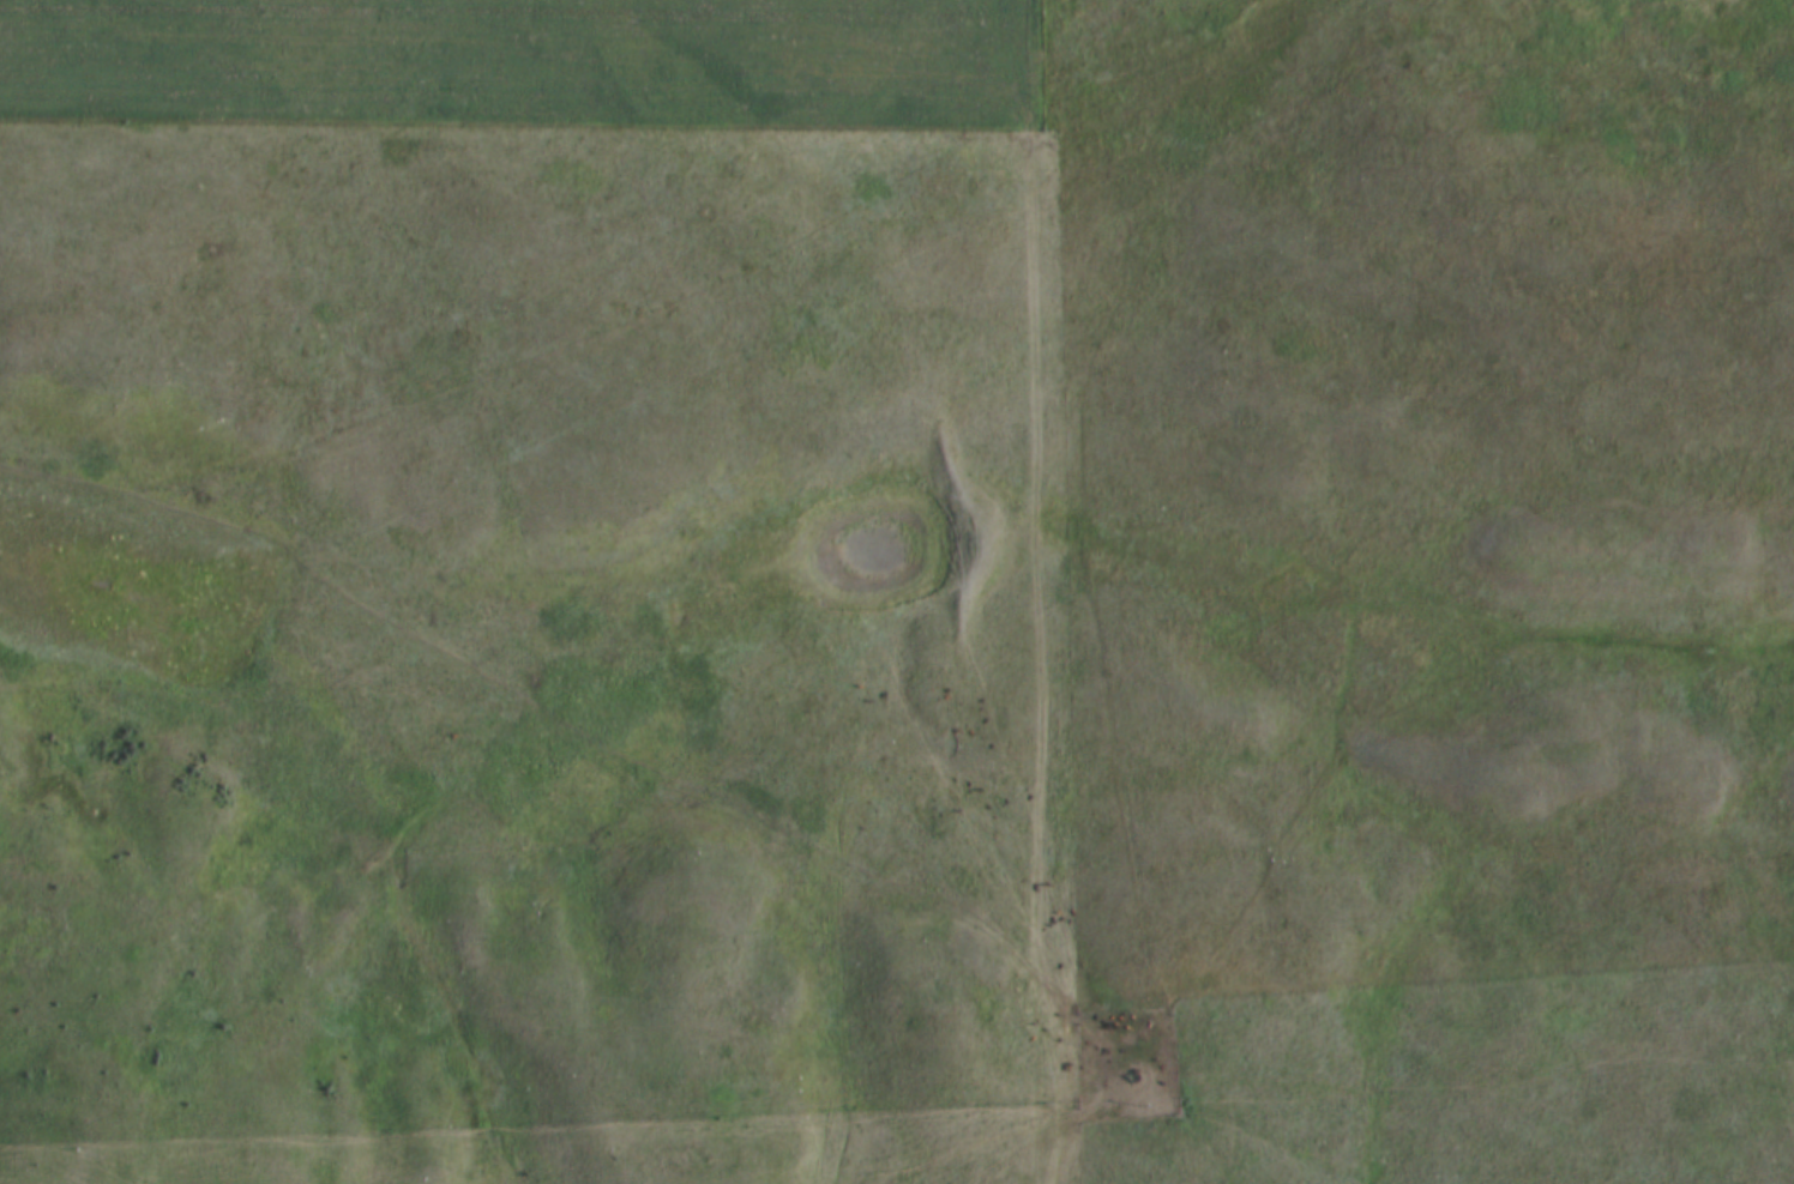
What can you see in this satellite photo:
building: (138, 7)
building: (511, 23)
building: (853, 26)
road: (1037, 592)

